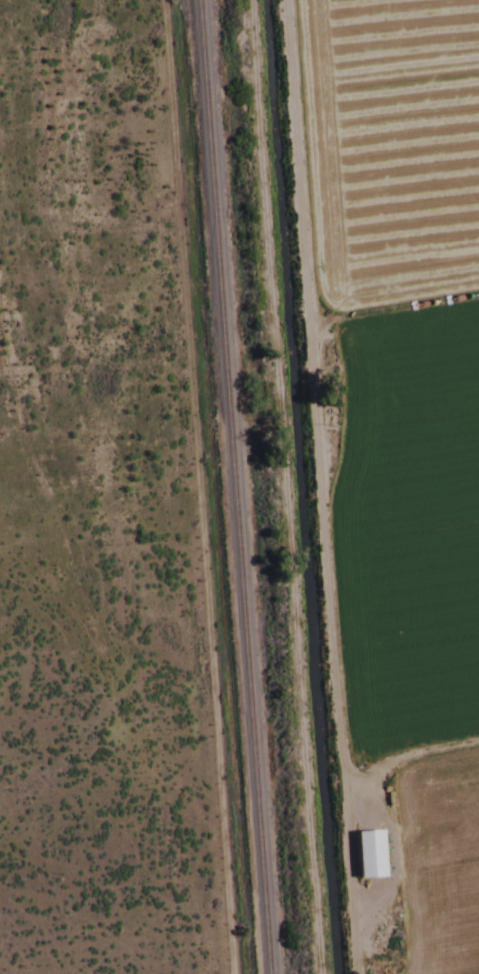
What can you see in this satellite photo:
road: (399, 307)
railway: (230, 487)
road: (331, 487)
road: (407, 760)
road: (369, 770)
building: (364, 857)

